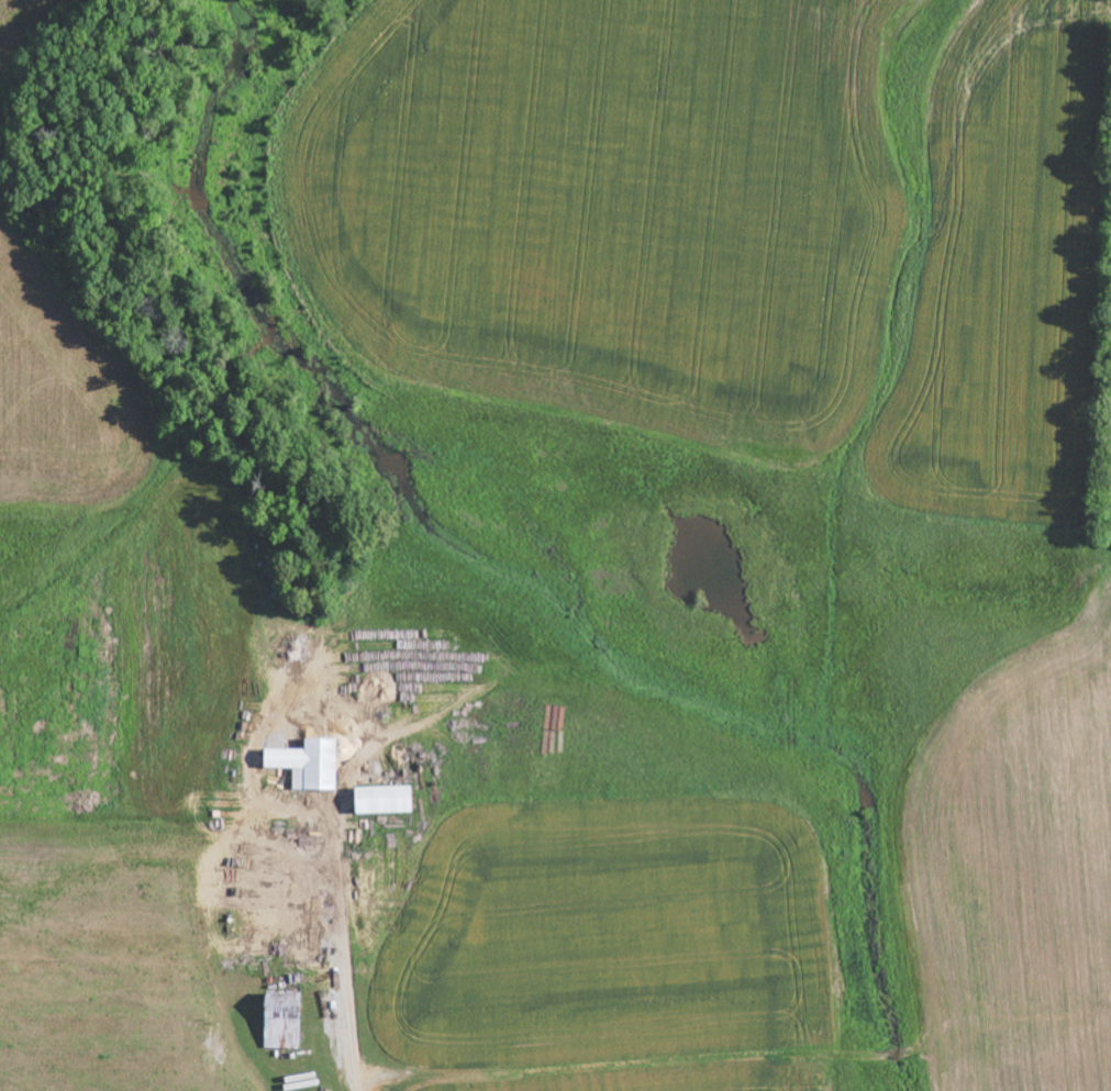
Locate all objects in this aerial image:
building: (307, 765)
building: (382, 800)
building: (281, 1022)

